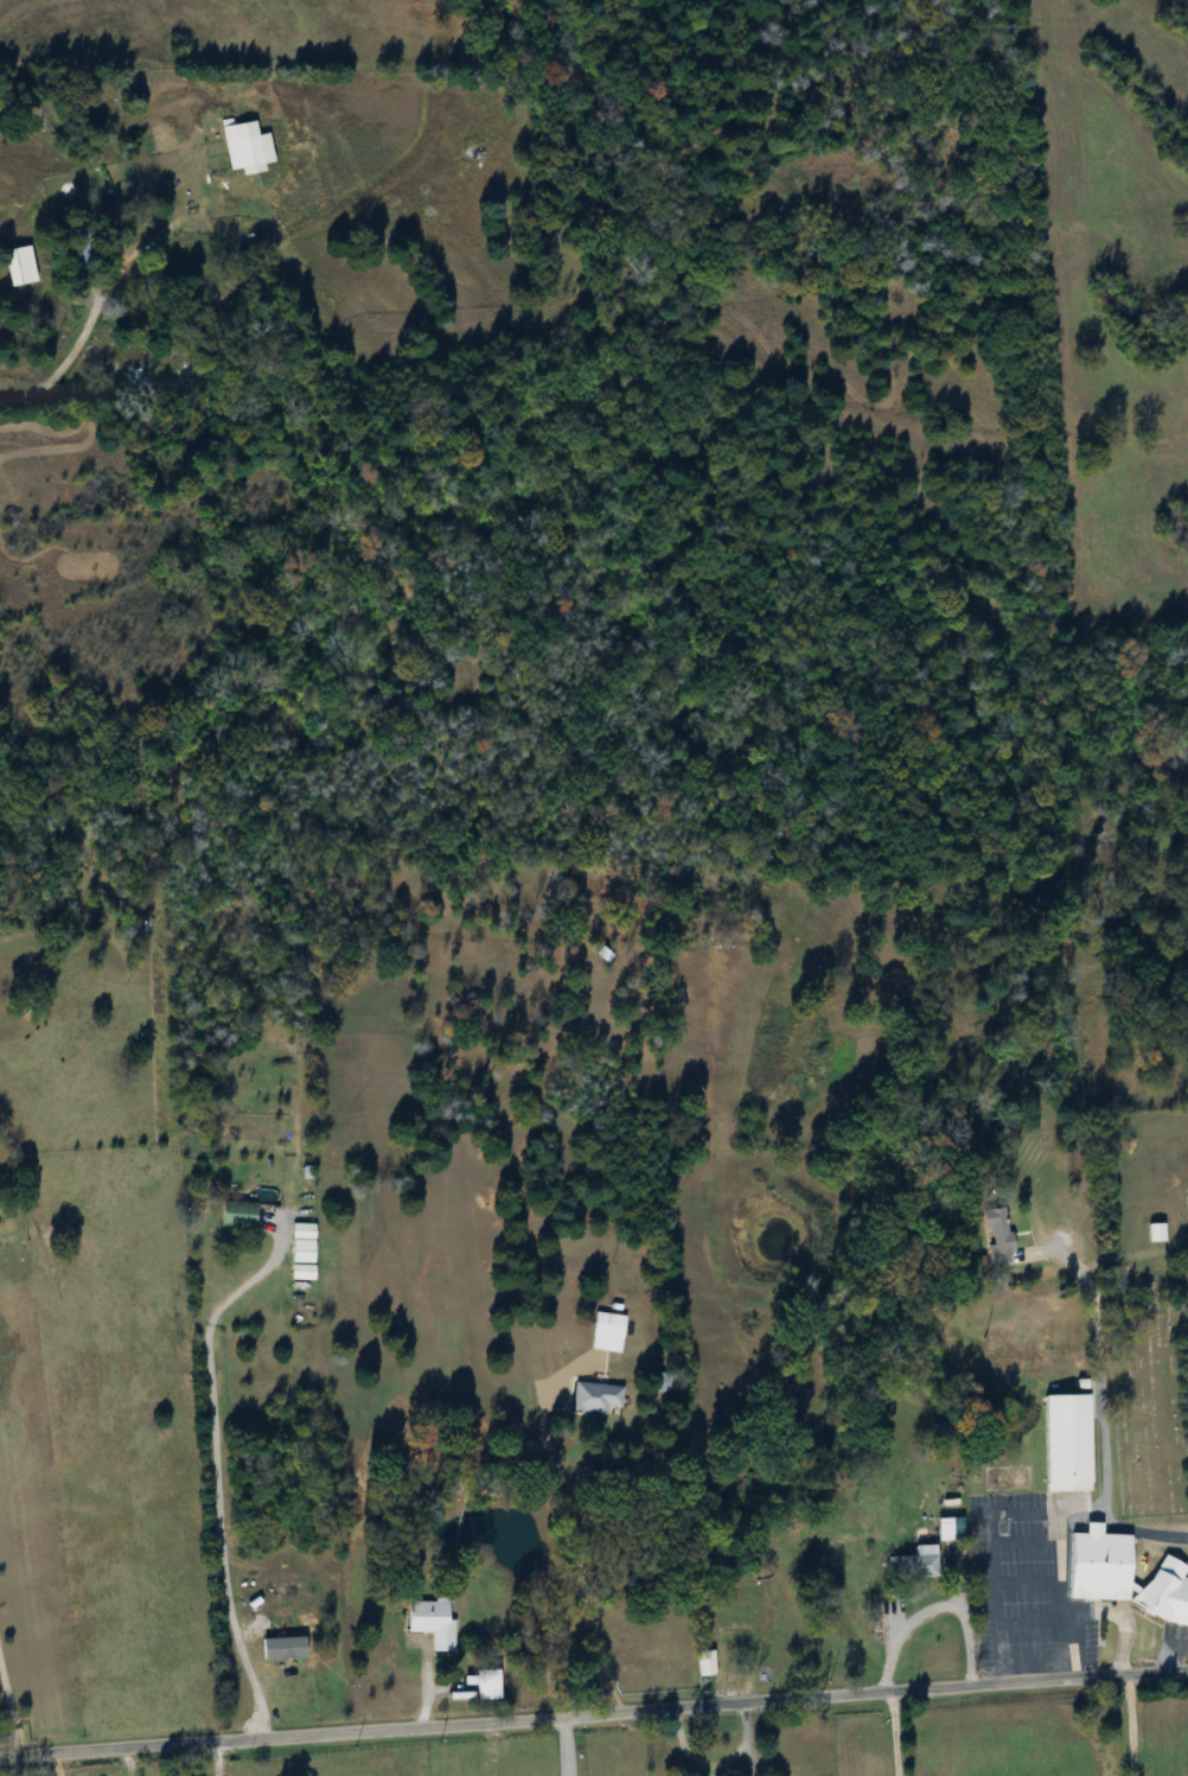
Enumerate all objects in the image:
building: (243, 148)
road: (57, 368)
building: (1152, 1233)
building: (997, 1239)
park: (1143, 1299)
building: (602, 1332)
building: (593, 1398)
building: (1062, 1443)
road: (204, 1469)
parking lot: (1090, 1489)
road: (1058, 1523)
road: (982, 1528)
road: (562, 1548)
building: (912, 1565)
parking lot: (1026, 1577)
building: (1120, 1578)
road: (934, 1608)
road: (992, 1612)
building: (428, 1623)
road: (1171, 1651)
building: (703, 1663)
road: (13, 1701)
road: (594, 1713)
road: (1133, 1724)
road: (893, 1733)
road: (549, 1746)
road: (200, 1761)

